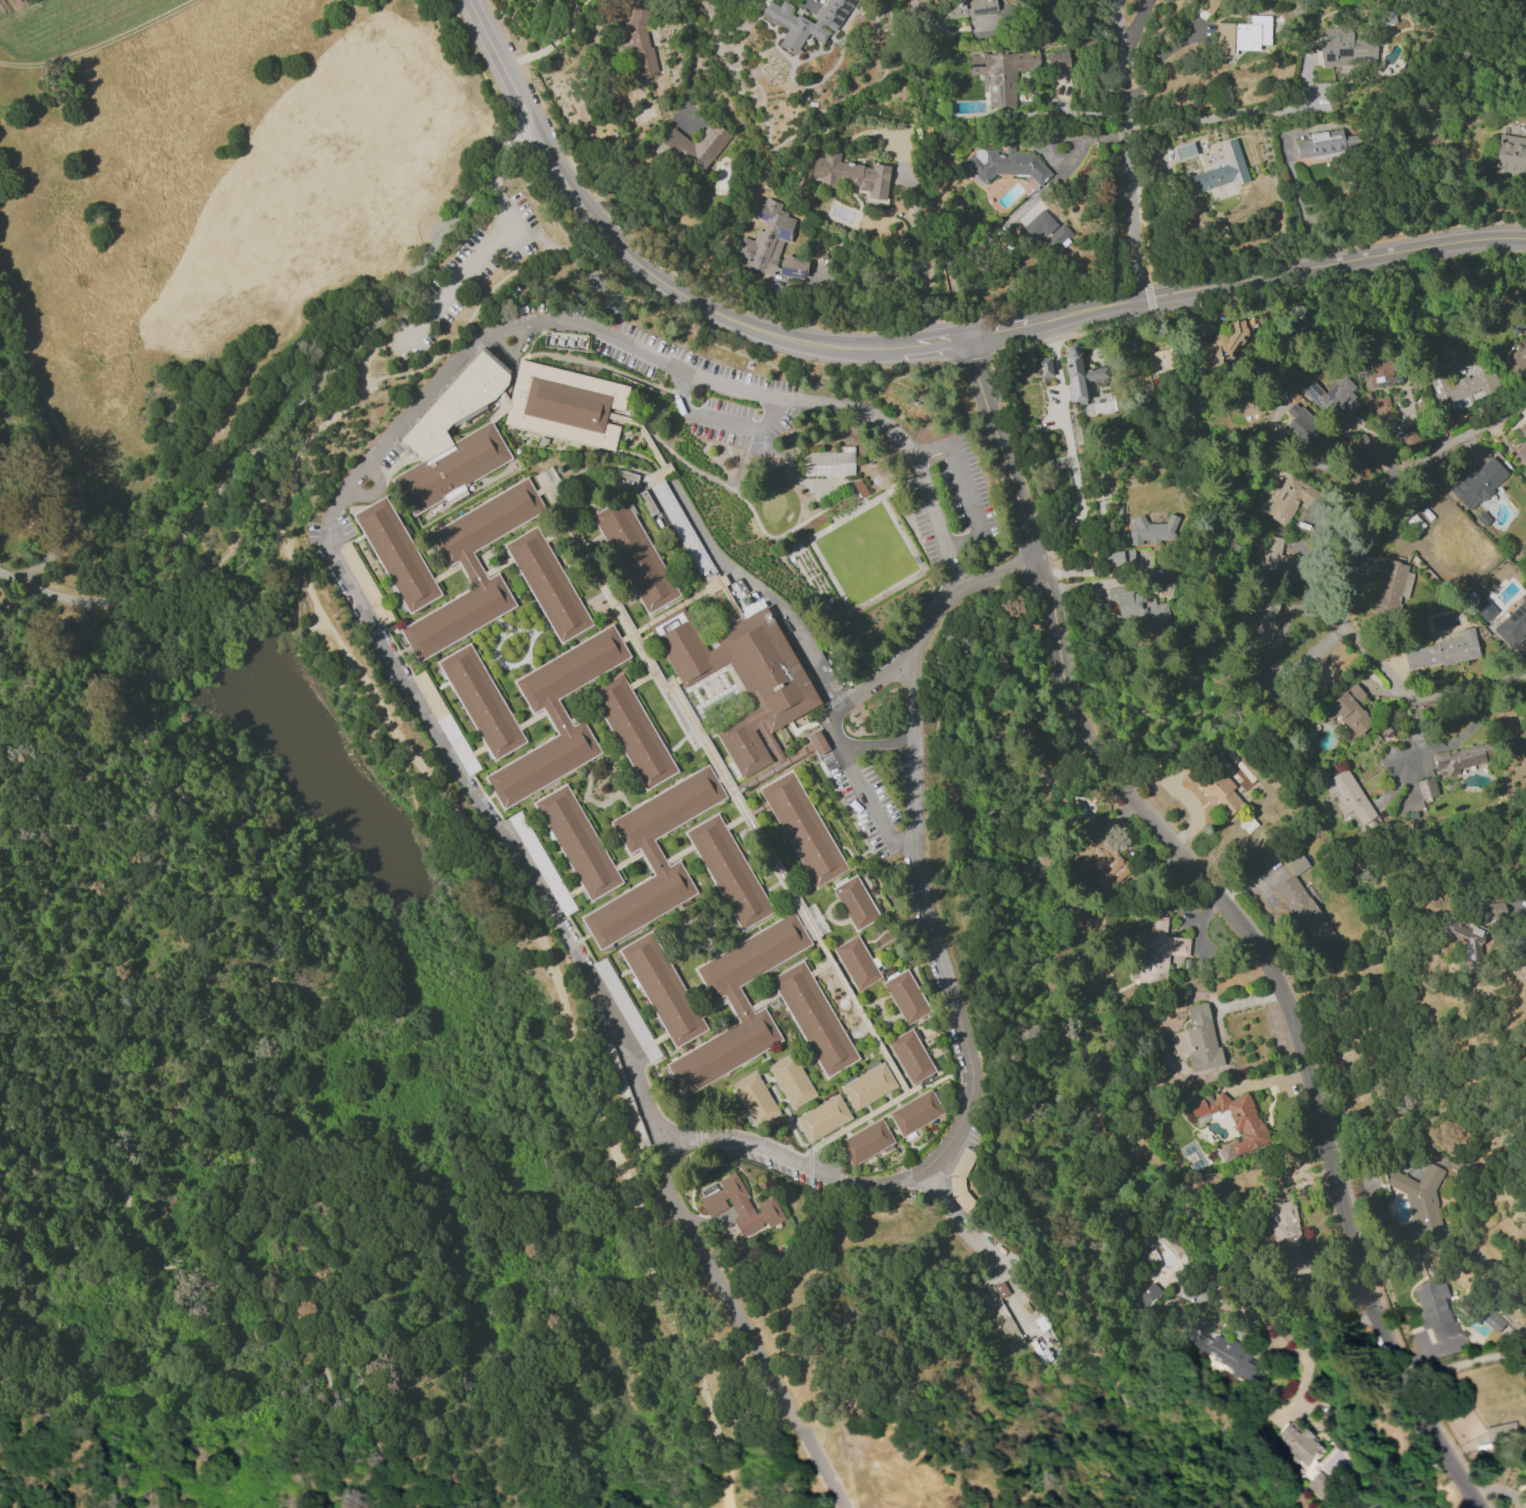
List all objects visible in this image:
building: (1207, 5)
road: (1052, 10)
building: (955, 15)
building: (806, 21)
road: (1134, 25)
building: (1242, 35)
building: (636, 39)
road: (546, 47)
building: (1345, 48)
road: (691, 60)
building: (1057, 60)
road: (1154, 63)
building: (1002, 73)
road: (1072, 113)
road: (1235, 114)
building: (1327, 143)
building: (696, 148)
road: (1124, 148)
building: (1184, 150)
building: (1510, 156)
building: (1005, 164)
road: (494, 168)
building: (1222, 169)
building: (851, 174)
road: (1296, 201)
building: (1039, 224)
building: (1057, 237)
road: (546, 238)
building: (765, 238)
road: (918, 255)
building: (792, 267)
parking lot: (468, 271)
road: (470, 278)
road: (462, 323)
road: (918, 343)
building: (1222, 344)
building: (1517, 358)
building: (1361, 365)
building: (1045, 366)
building: (1159, 367)
building: (1382, 372)
road: (920, 373)
building: (1080, 374)
building: (1461, 388)
road: (745, 391)
building: (1334, 400)
building: (1380, 408)
building: (1304, 427)
road: (269, 432)
building: (577, 433)
building: (453, 437)
building: (1409, 440)
road: (1070, 444)
building: (1523, 445)
building: (1374, 453)
building: (828, 462)
building: (626, 479)
building: (1479, 482)
road: (963, 484)
building: (1290, 499)
building: (1152, 530)
building: (396, 554)
building: (634, 554)
building: (1275, 558)
building: (471, 569)
building: (357, 571)
road: (997, 573)
road: (1354, 575)
building: (547, 584)
building: (1391, 588)
road: (155, 604)
building: (1139, 608)
building: (1266, 620)
building: (1513, 624)
building: (1443, 651)
road: (813, 659)
building: (743, 679)
road: (873, 684)
building: (481, 701)
building: (1348, 712)
building: (556, 716)
building: (632, 731)
road: (878, 746)
road: (1441, 747)
building: (1457, 759)
building: (1214, 788)
building: (1426, 788)
building: (1348, 796)
building: (802, 828)
building: (577, 842)
building: (653, 856)
building: (1099, 858)
building: (541, 863)
building: (1297, 864)
building: (728, 871)
road: (502, 878)
building: (855, 902)
road: (1507, 908)
building: (1303, 910)
building: (1492, 911)
road: (1233, 912)
building: (1466, 937)
building: (1158, 950)
building: (856, 962)
building: (662, 989)
building: (905, 996)
building: (738, 1003)
building: (627, 1010)
building: (813, 1018)
building: (1201, 1038)
road: (1011, 1049)
building: (910, 1056)
road: (180, 1077)
building: (791, 1080)
building: (868, 1085)
building: (754, 1098)
building: (915, 1112)
building: (822, 1118)
building: (1234, 1122)
building: (866, 1141)
building: (1420, 1198)
building: (741, 1205)
building: (1285, 1233)
road: (970, 1234)
building: (1148, 1296)
building: (1434, 1311)
building: (1000, 1314)
building: (1491, 1321)
road: (745, 1327)
road: (1312, 1341)
building: (1221, 1353)
road: (1463, 1364)
building: (1500, 1431)
building: (1311, 1459)
building: (1525, 1470)

